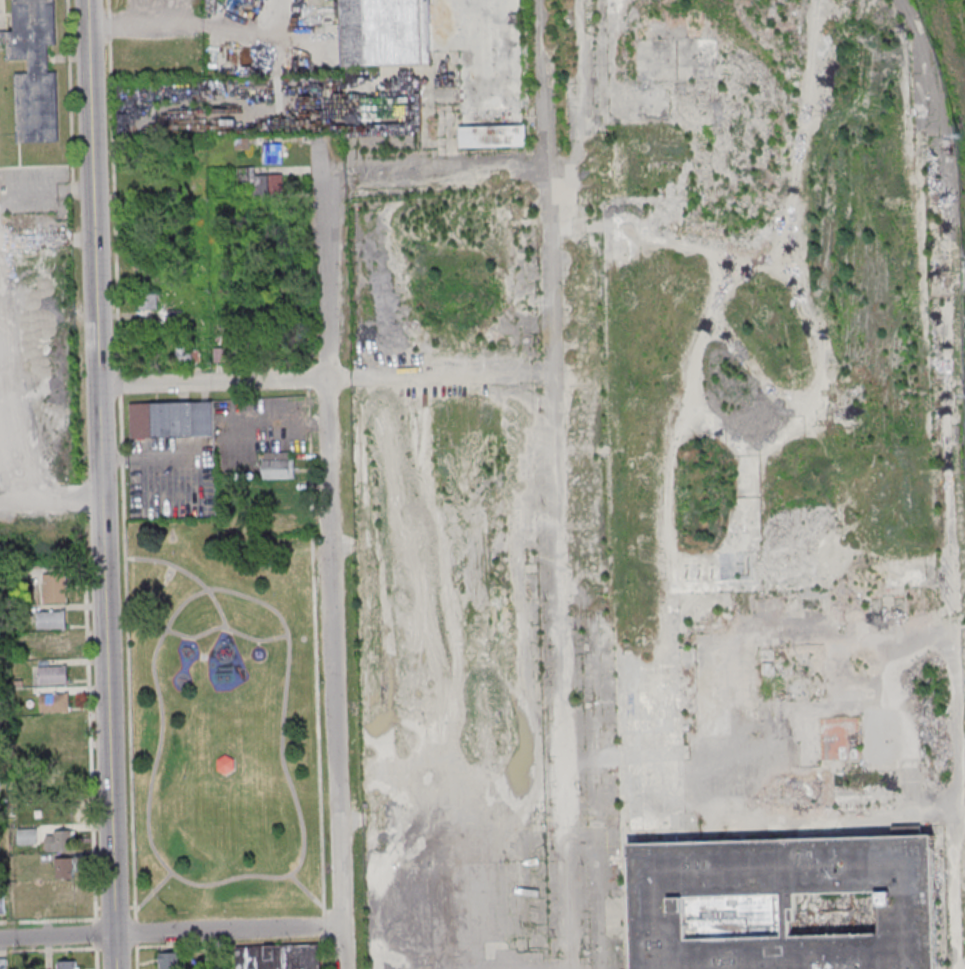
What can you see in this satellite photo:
road: (176, 29)
railway: (954, 29)
building: (383, 31)
building: (34, 69)
building: (492, 136)
power tower: (959, 136)
building: (271, 153)
road: (433, 177)
building: (258, 180)
road: (56, 191)
building: (149, 301)
road: (549, 307)
building: (174, 316)
building: (184, 351)
road: (323, 379)
power tower: (964, 396)
building: (171, 419)
building: (279, 465)
road: (99, 484)
road: (121, 484)
building: (276, 499)
road: (330, 555)
road: (169, 568)
road: (190, 575)
building: (54, 587)
building: (51, 619)
road: (227, 628)
road: (258, 643)
building: (53, 647)
road: (314, 655)
building: (52, 674)
building: (54, 702)
park: (223, 721)
building: (58, 729)
building: (834, 738)
building: (61, 757)
building: (226, 766)
building: (63, 784)
road: (563, 792)
building: (59, 840)
building: (781, 866)
building: (65, 868)
road: (247, 877)
road: (152, 890)
road: (306, 891)
building: (66, 896)
building: (907, 902)
building: (2, 904)
building: (658, 904)
building: (789, 911)
road: (96, 914)
building: (734, 916)
road: (170, 932)
road: (324, 940)
building: (787, 952)
building: (278, 957)
building: (172, 960)
building: (2, 963)
building: (66, 964)

